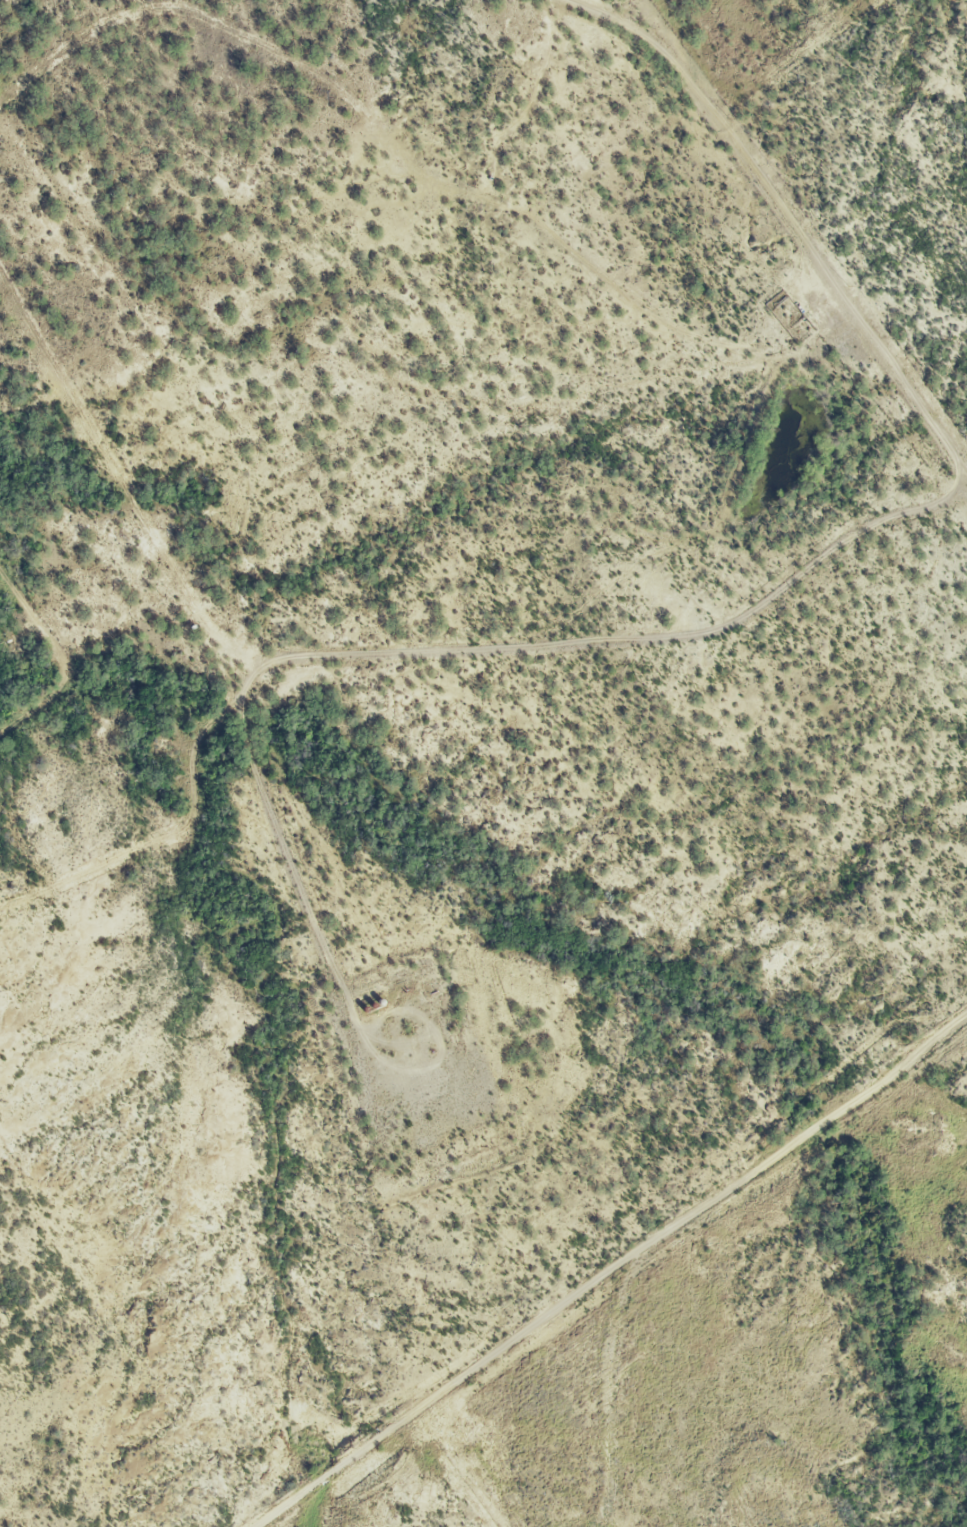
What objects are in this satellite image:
road: (706, 1245)

